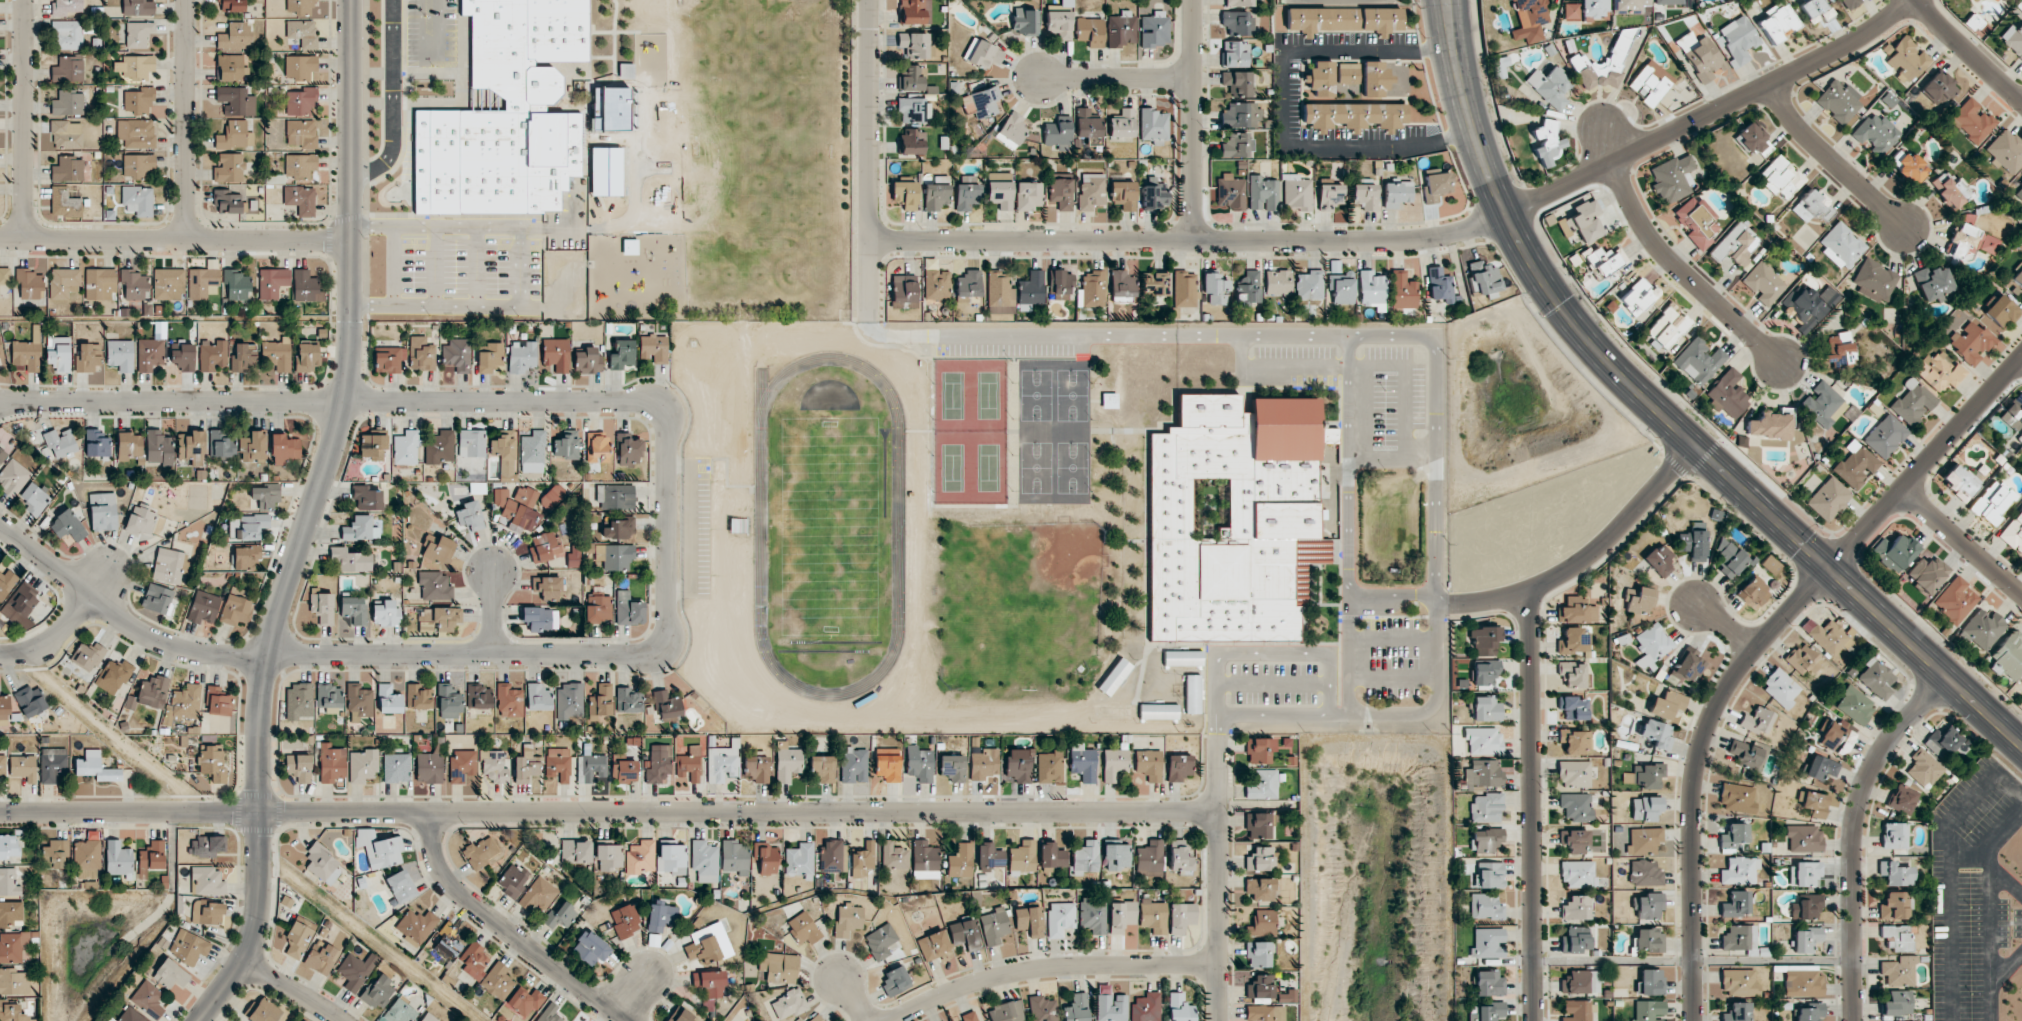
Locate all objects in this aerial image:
building: (1994, 0)
building: (1669, 2)
building: (1239, 3)
building: (1850, 3)
building: (232, 5)
building: (1632, 5)
building: (67, 6)
building: (299, 6)
building: (138, 7)
building: (1594, 8)
building: (1813, 10)
building: (914, 11)
building: (1572, 11)
building: (1345, 19)
building: (1529, 20)
building: (1025, 21)
building: (1778, 21)
building: (1237, 22)
building: (1059, 24)
building: (1122, 29)
building: (1155, 29)
building: (1090, 31)
building: (303, 32)
building: (138, 33)
building: (67, 34)
building: (235, 36)
building: (2013, 39)
building: (1738, 40)
building: (915, 44)
road: (1967, 51)
building: (982, 54)
building: (1234, 54)
building: (1700, 56)
building: (1579, 59)
building: (1906, 59)
building: (1501, 64)
building: (137, 66)
building: (300, 66)
building: (68, 68)
building: (1348, 73)
building: (911, 77)
road: (1117, 79)
building: (1321, 79)
building: (1375, 79)
building: (1239, 83)
building: (1650, 83)
building: (1549, 87)
building: (1938, 88)
road: (392, 99)
building: (139, 100)
building: (236, 100)
building: (301, 100)
building: (1838, 101)
building: (68, 102)
building: (982, 102)
building: (536, 108)
building: (914, 110)
road: (1284, 110)
building: (1241, 114)
building: (506, 115)
building: (1354, 115)
road: (25, 118)
road: (186, 120)
road: (1193, 120)
building: (1972, 120)
building: (1122, 123)
building: (1088, 126)
building: (1154, 126)
building: (1013, 130)
building: (136, 132)
building: (302, 132)
building: (1876, 133)
building: (67, 134)
building: (235, 135)
building: (1057, 135)
building: (1752, 140)
building: (912, 141)
building: (1547, 142)
building: (1236, 145)
building: (2006, 151)
road: (869, 160)
road: (1833, 162)
building: (138, 165)
building: (300, 165)
building: (1908, 166)
building: (229, 168)
building: (68, 169)
building: (605, 171)
building: (1781, 177)
building: (1672, 178)
building: (2020, 184)
building: (1435, 186)
building: (1000, 190)
building: (1951, 190)
building: (1092, 191)
building: (1230, 192)
building: (1296, 192)
building: (937, 193)
building: (967, 193)
building: (1061, 193)
building: (1263, 193)
building: (905, 194)
building: (1123, 194)
building: (1397, 194)
building: (1028, 196)
building: (1155, 196)
building: (1330, 196)
building: (1364, 196)
building: (301, 199)
building: (138, 200)
building: (64, 202)
building: (229, 202)
building: (1812, 206)
building: (1582, 221)
building: (1697, 222)
road: (175, 239)
road: (1419, 239)
building: (1970, 243)
building: (1735, 245)
building: (1841, 245)
building: (1604, 260)
road: (1684, 272)
building: (1484, 278)
building: (2018, 278)
building: (1875, 281)
building: (4, 282)
building: (203, 282)
building: (272, 282)
building: (1278, 282)
building: (100, 283)
building: (169, 283)
building: (1763, 283)
building: (30, 284)
building: (65, 284)
building: (936, 284)
building: (969, 284)
building: (1060, 284)
building: (1122, 284)
building: (1155, 284)
building: (1934, 284)
building: (134, 285)
building: (236, 285)
building: (305, 285)
building: (1310, 285)
building: (1440, 285)
building: (1342, 288)
building: (1093, 289)
building: (1184, 289)
building: (1215, 289)
building: (1248, 289)
building: (1371, 289)
building: (1031, 290)
building: (904, 291)
building: (1403, 291)
building: (1000, 294)
building: (1637, 297)
building: (1808, 305)
building: (305, 306)
building: (2002, 312)
building: (1668, 327)
road: (1147, 336)
building: (1971, 343)
building: (0, 345)
building: (654, 348)
building: (1839, 349)
building: (28, 350)
building: (58, 352)
road: (1243, 352)
building: (421, 353)
building: (120, 354)
building: (149, 354)
building: (276, 354)
building: (307, 354)
building: (556, 354)
building: (183, 355)
building: (212, 355)
building: (457, 355)
building: (621, 355)
building: (521, 356)
building: (88, 357)
building: (244, 357)
building: (489, 357)
building: (388, 359)
building: (587, 361)
building: (1699, 361)
road: (1324, 367)
building: (1938, 372)
building: (1728, 394)
building: (1912, 402)
building: (1823, 405)
road: (1406, 411)
building: (2013, 414)
road: (1665, 418)
building: (1771, 425)
building: (1885, 436)
building: (60, 441)
building: (471, 443)
building: (97, 444)
building: (220, 444)
building: (567, 445)
building: (129, 446)
building: (373, 446)
building: (158, 447)
building: (191, 447)
building: (253, 447)
building: (439, 447)
building: (284, 448)
building: (406, 448)
building: (597, 448)
building: (629, 449)
building: (533, 452)
building: (505, 454)
road: (1393, 456)
building: (1856, 465)
building: (13, 476)
building: (1959, 482)
building: (266, 495)
building: (551, 496)
building: (616, 497)
building: (35, 498)
building: (368, 498)
building: (1828, 499)
building: (1992, 502)
building: (517, 507)
building: (103, 511)
building: (470, 516)
building: (1234, 517)
road: (308, 519)
building: (141, 520)
building: (252, 525)
road: (1350, 526)
building: (67, 527)
building: (358, 528)
parking lot: (696, 528)
building: (618, 529)
road: (690, 529)
building: (2013, 533)
building: (1693, 542)
road: (1962, 542)
road: (667, 545)
building: (544, 547)
building: (438, 548)
building: (1894, 551)
building: (246, 556)
building: (1728, 557)
road: (1585, 558)
building: (350, 559)
building: (1659, 560)
building: (168, 565)
building: (1770, 565)
building: (1927, 573)
road: (1437, 576)
building: (6, 582)
building: (435, 586)
building: (546, 587)
building: (1753, 593)
road: (1394, 596)
building: (157, 598)
building: (23, 599)
building: (1639, 600)
building: (1955, 600)
building: (203, 607)
building: (322, 607)
building: (597, 608)
building: (235, 609)
building: (354, 609)
building: (628, 609)
building: (1577, 611)
road: (494, 612)
building: (386, 614)
building: (446, 617)
building: (537, 618)
road: (1728, 624)
building: (1983, 630)
building: (1827, 635)
road: (55, 638)
road: (1395, 639)
building: (1484, 640)
building: (1574, 642)
building: (1651, 645)
road: (1756, 647)
road: (1274, 654)
building: (88, 655)
building: (2008, 656)
building: (1182, 658)
building: (1803, 660)
building: (1687, 666)
building: (1486, 674)
building: (1574, 674)
building: (113, 676)
road: (1395, 676)
building: (1114, 677)
building: (1876, 679)
road: (1274, 684)
building: (1781, 688)
building: (150, 693)
building: (1192, 694)
building: (330, 697)
building: (418, 697)
building: (479, 697)
building: (537, 697)
building: (388, 699)
building: (31, 700)
building: (298, 700)
building: (359, 700)
building: (629, 700)
building: (218, 701)
building: (448, 701)
building: (509, 701)
building: (569, 701)
building: (600, 702)
building: (667, 704)
building: (1667, 704)
building: (1855, 706)
building: (4, 707)
building: (1573, 707)
building: (185, 709)
building: (1486, 709)
building: (1112, 711)
building: (1158, 711)
road: (1274, 715)
building: (1758, 721)
road: (1219, 725)
building: (1656, 734)
building: (1836, 738)
building: (1483, 741)
building: (1576, 741)
building: (1943, 742)
building: (1259, 750)
building: (1748, 754)
building: (212, 762)
building: (723, 762)
building: (1083, 762)
building: (52, 763)
building: (331, 763)
building: (919, 763)
building: (1114, 763)
building: (558, 764)
building: (658, 764)
building: (787, 764)
building: (887, 764)
building: (984, 764)
building: (1149, 764)
building: (3, 765)
building: (362, 765)
building: (462, 765)
building: (689, 765)
building: (854, 765)
building: (299, 766)
building: (494, 766)
building: (526, 766)
building: (23, 767)
building: (96, 767)
building: (395, 767)
building: (590, 767)
building: (953, 767)
building: (1049, 767)
building: (1178, 767)
building: (1821, 767)
building: (429, 768)
building: (756, 768)
building: (822, 768)
building: (1018, 768)
building: (1923, 769)
building: (624, 771)
building: (1484, 773)
building: (1575, 774)
building: (1648, 775)
building: (1263, 785)
building: (1737, 798)
building: (1903, 799)
building: (1813, 803)
road: (1530, 806)
building: (1576, 806)
building: (1486, 808)
building: (1645, 808)
road: (608, 811)
building: (1259, 825)
road: (1854, 834)
building: (1734, 835)
building: (1894, 835)
building: (1803, 838)
building: (1485, 839)
building: (1574, 840)
building: (1643, 841)
building: (9, 846)
building: (207, 846)
building: (379, 849)
building: (575, 851)
building: (481, 852)
building: (55, 853)
building: (152, 855)
building: (607, 855)
building: (833, 856)
building: (894, 856)
building: (989, 856)
building: (1052, 856)
building: (1117, 856)
building: (640, 857)
building: (734, 857)
building: (1086, 857)
building: (87, 858)
building: (118, 858)
building: (766, 858)
building: (671, 859)
building: (1150, 859)
building: (1260, 859)
building: (862, 860)
building: (925, 860)
building: (705, 861)
building: (800, 861)
building: (961, 861)
building: (323, 864)
building: (1740, 871)
building: (1645, 873)
building: (1578, 874)
building: (1804, 874)
building: (1895, 874)
building: (1489, 875)
road: (1218, 877)
building: (512, 880)
building: (207, 881)
building: (8, 882)
building: (401, 886)
building: (1260, 889)
building: (538, 896)
building: (1736, 904)
building: (1647, 905)
building: (1893, 905)
building: (1485, 906)
building: (1806, 907)
building: (1576, 908)
building: (11, 913)
building: (207, 913)
building: (1092, 915)
building: (560, 916)
building: (659, 916)
building: (1121, 916)
building: (1153, 916)
building: (1181, 917)
building: (1060, 918)
building: (847, 920)
building: (625, 921)
building: (1029, 921)
building: (1262, 923)
building: (415, 926)
building: (994, 926)
building: (803, 928)
road: (506, 929)
building: (964, 934)
building: (1897, 938)
building: (297, 939)
building: (1806, 939)
building: (1575, 940)
building: (1649, 940)
building: (880, 941)
building: (448, 942)
building: (1488, 943)
building: (709, 944)
building: (933, 945)
building: (12, 946)
building: (188, 947)
building: (590, 948)
building: (1259, 954)
building: (321, 959)
building: (473, 960)
building: (779, 967)
road: (1049, 968)
building: (355, 970)
building: (1899, 971)
building: (170, 974)
building: (895, 980)
building: (13, 981)
building: (497, 981)
building: (1581, 982)
building: (1650, 982)
building: (1739, 982)
building: (1802, 982)
building: (1489, 983)
building: (709, 986)
building: (1260, 987)
road: (293, 990)
building: (377, 992)
road: (633, 993)
building: (1287, 996)
building: (148, 999)
road: (855, 999)
building: (524, 1002)
building: (1897, 1003)
building: (788, 1004)
building: (1111, 1007)
building: (1146, 1007)
building: (1077, 1008)
building: (1179, 1008)
building: (1042, 1009)
building: (1577, 1010)
building: (1648, 1010)
building: (264, 1011)
building: (399, 1011)
building: (1006, 1012)
building: (1487, 1012)
building: (1737, 1012)
building: (13, 1013)
building: (549, 1013)
building: (1264, 1013)
building: (1810, 1013)
building: (129, 1015)
building: (680, 1016)
building: (969, 1016)
building: (429, 1017)
building: (817, 1018)

